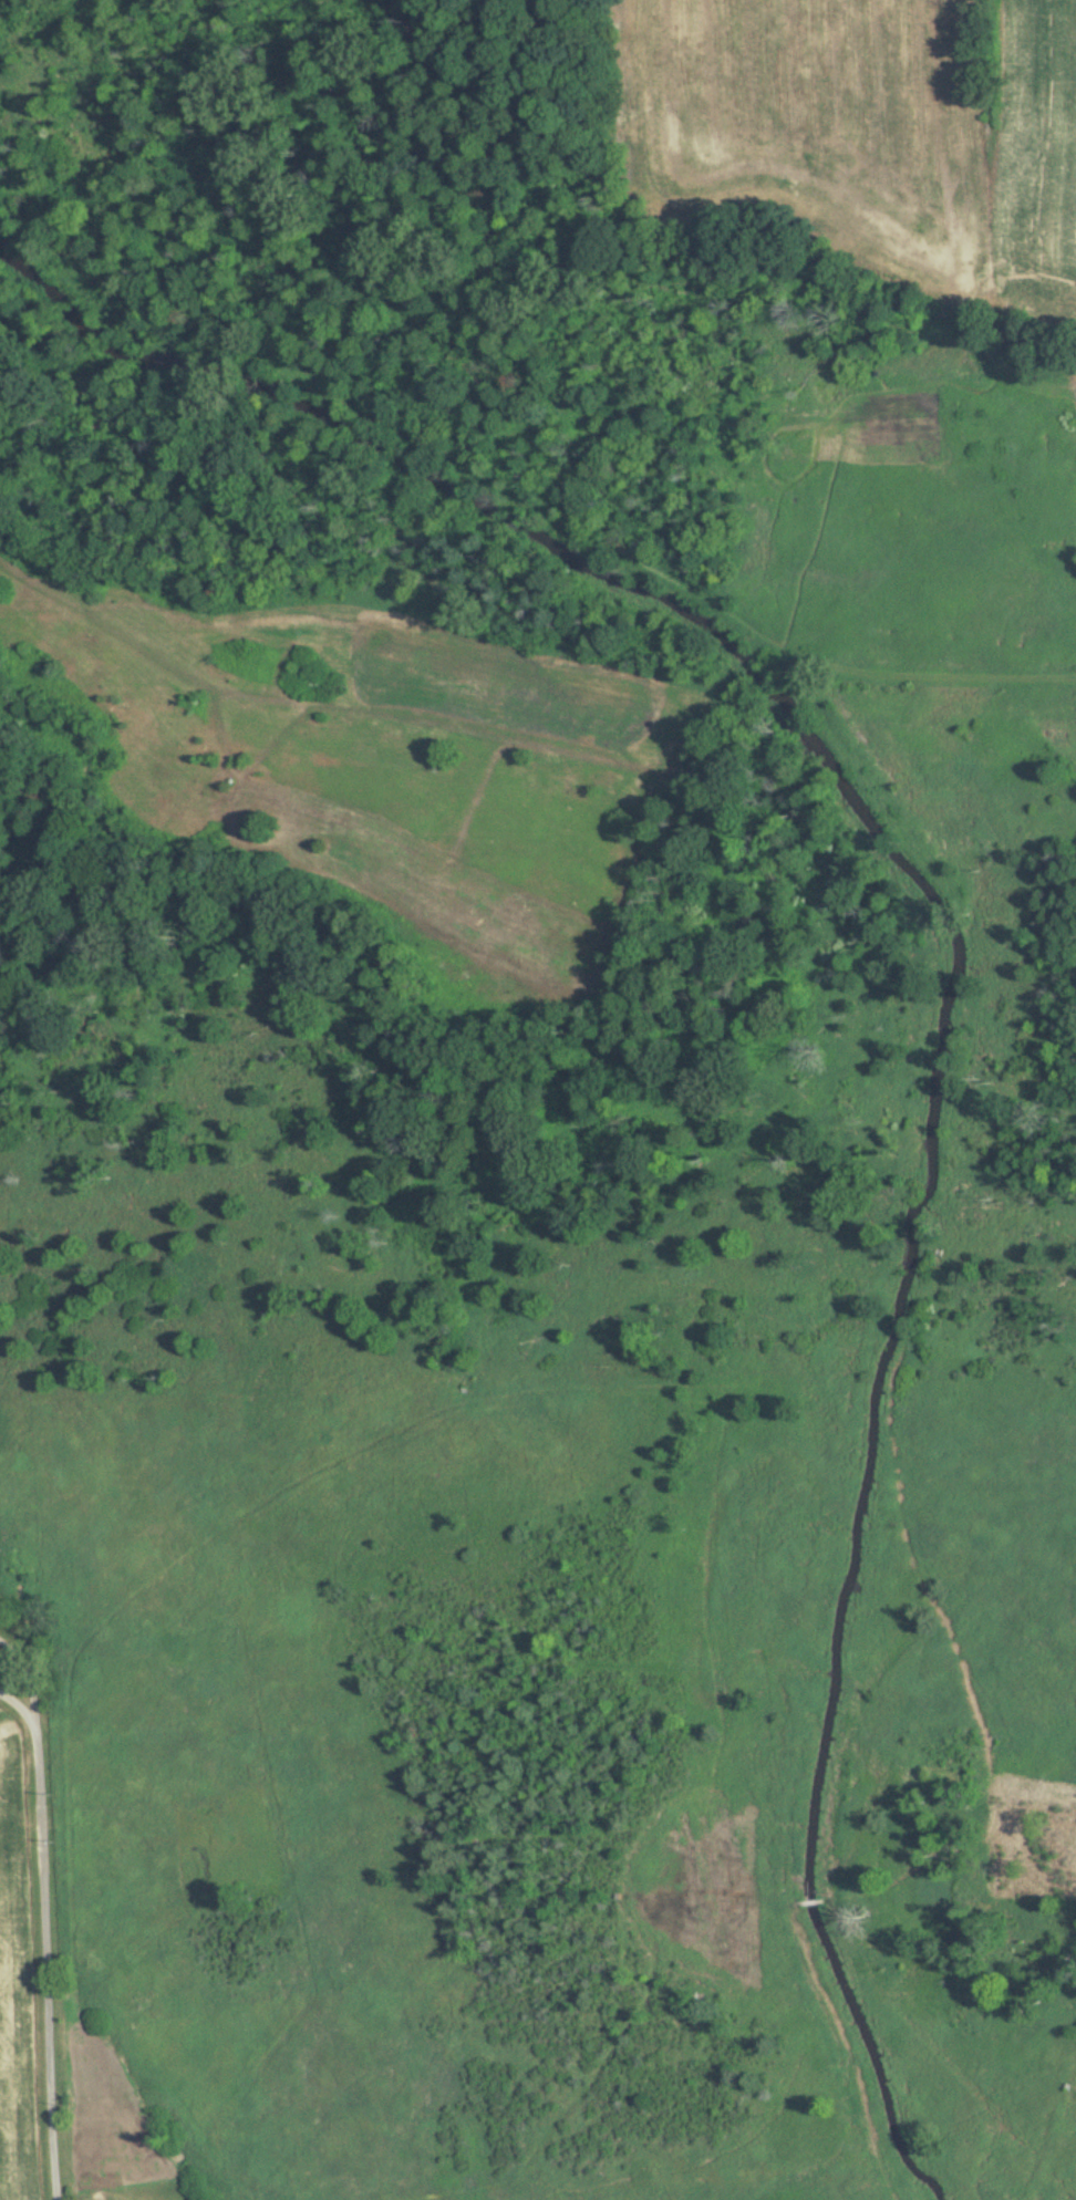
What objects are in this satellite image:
road: (30, 1673)
road: (49, 1936)

